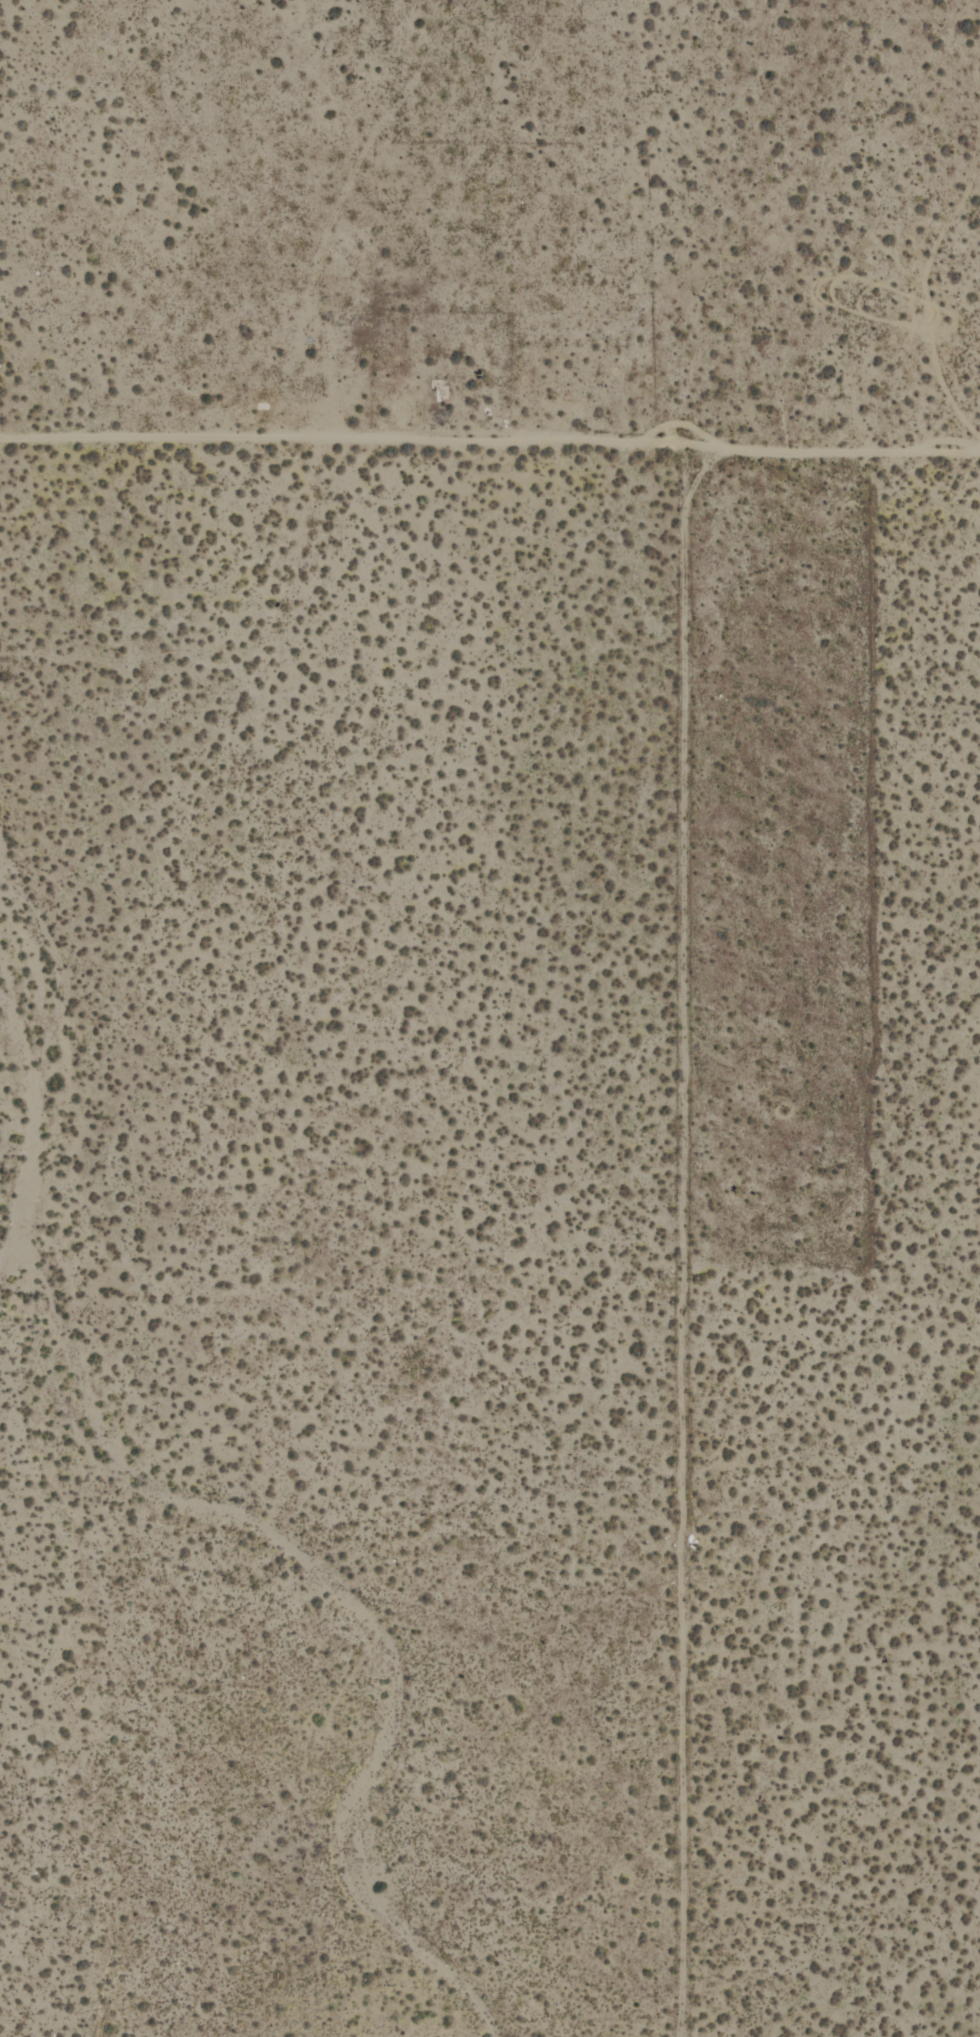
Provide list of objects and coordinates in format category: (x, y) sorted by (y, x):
road: (489, 436)

